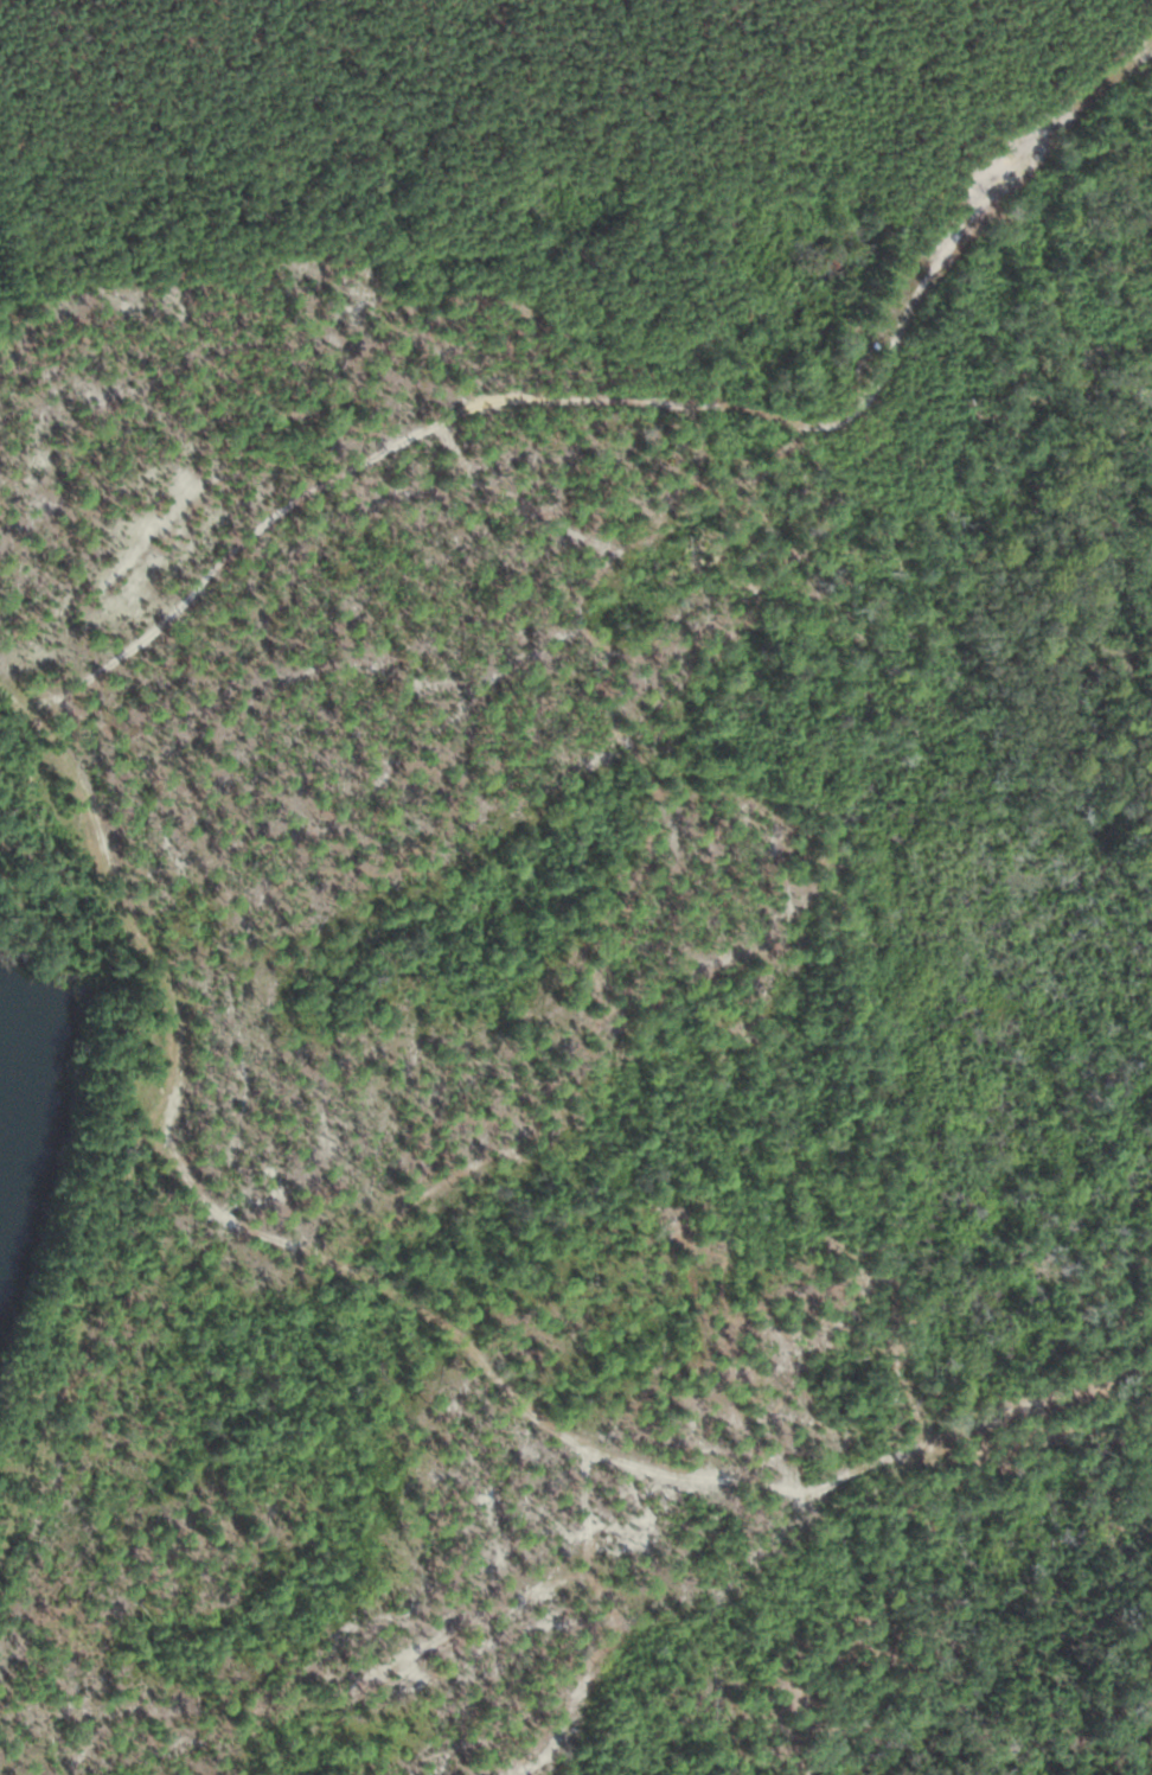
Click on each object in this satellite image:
road: (645, 401)
road: (424, 1304)

